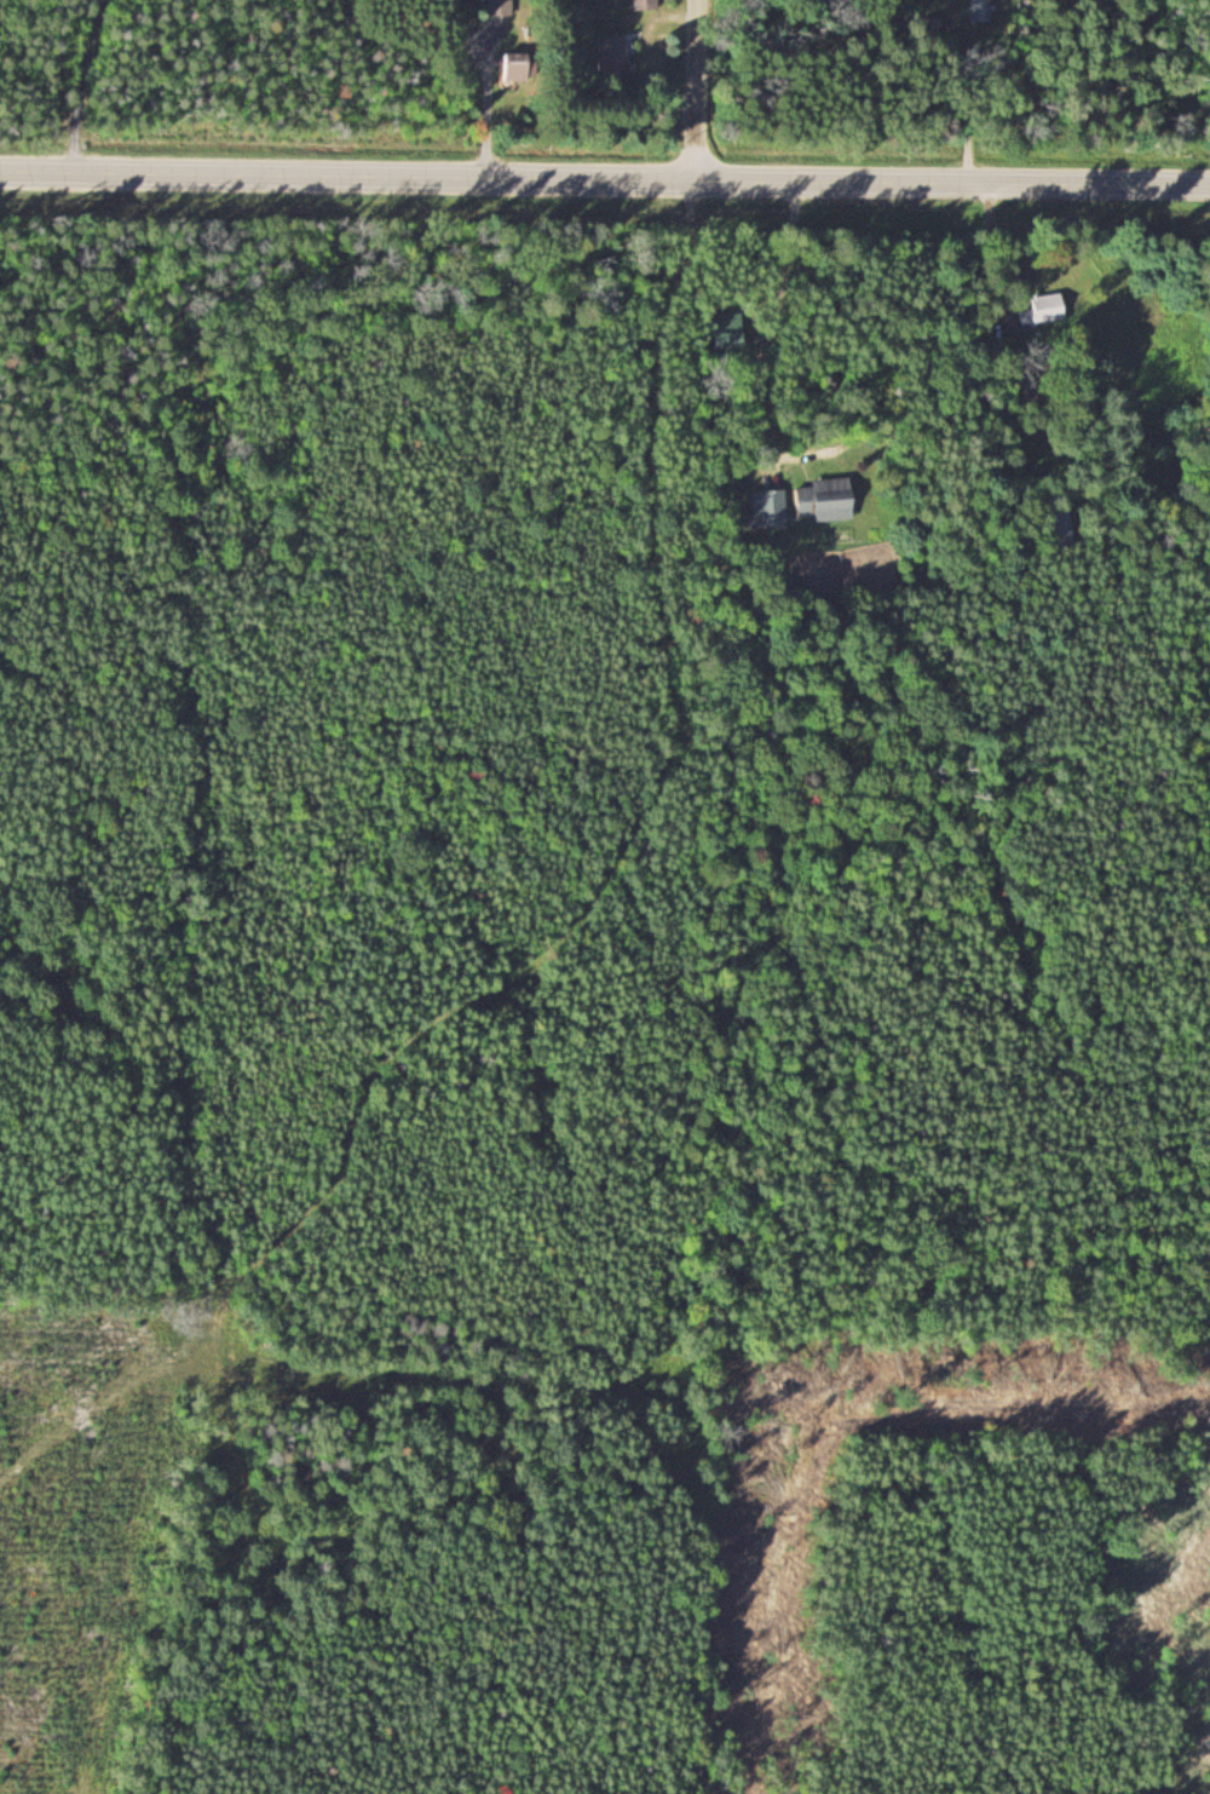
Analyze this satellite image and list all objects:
building: (646, 5)
building: (502, 7)
building: (983, 11)
building: (613, 54)
building: (518, 65)
road: (695, 91)
road: (604, 180)
building: (1047, 309)
road: (862, 334)
building: (829, 499)
building: (771, 507)
road: (904, 805)

